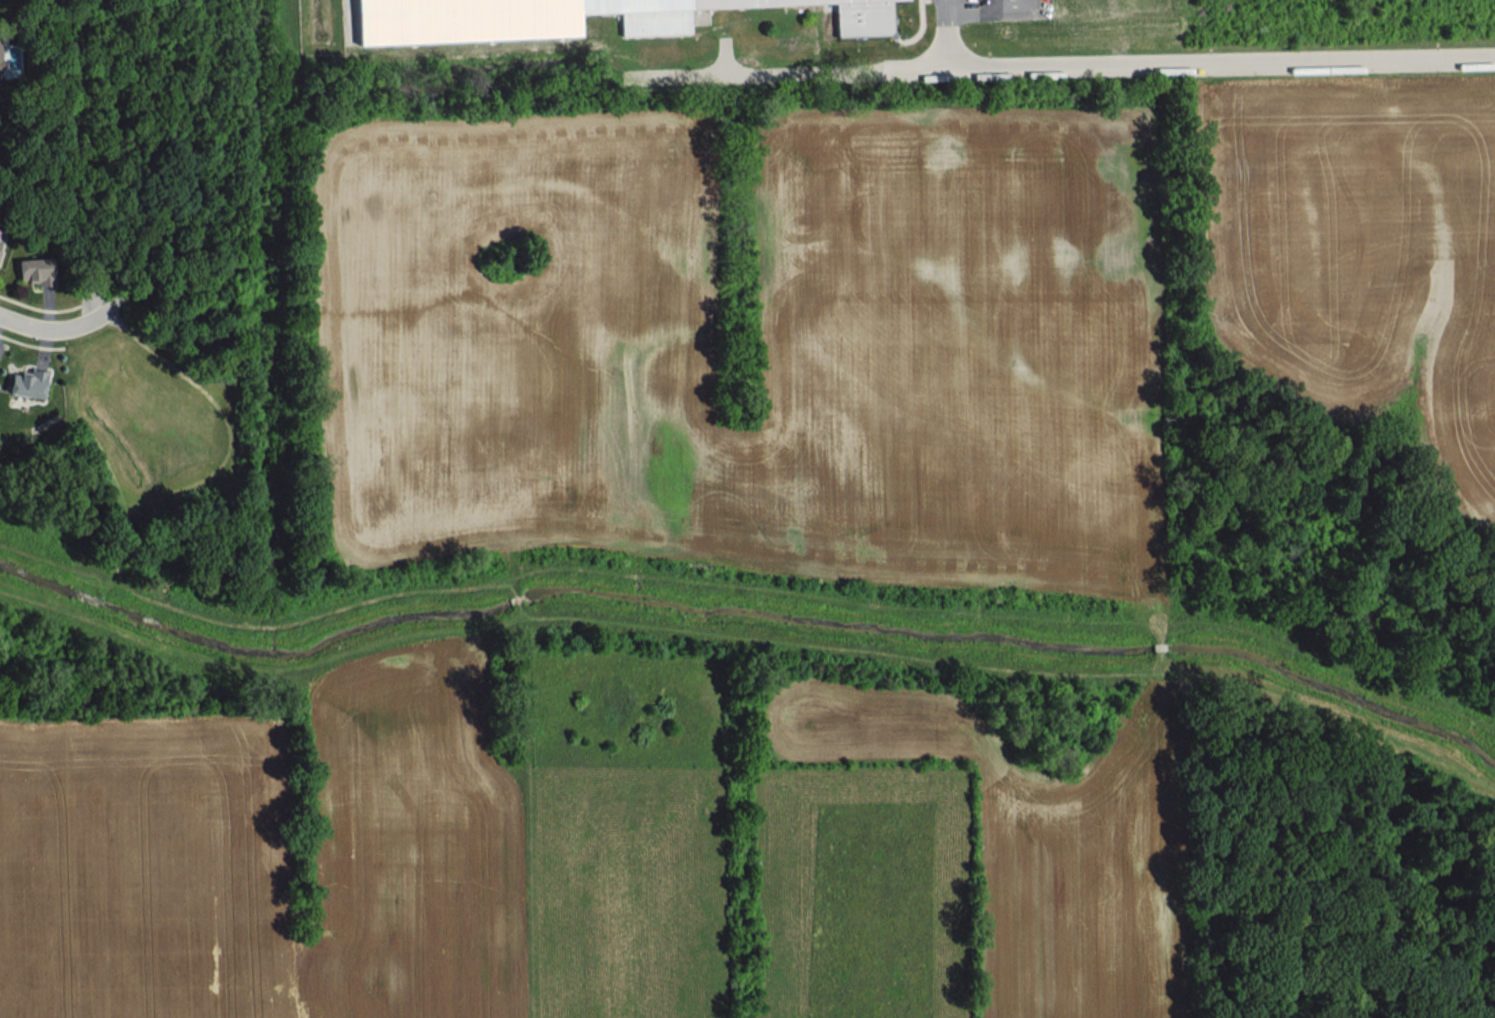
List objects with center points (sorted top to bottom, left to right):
parking lot: (953, 10)
building: (572, 18)
road: (945, 34)
road: (1183, 60)
building: (0, 63)
road: (753, 75)
building: (0, 239)
building: (36, 271)
road: (57, 329)
building: (28, 383)

